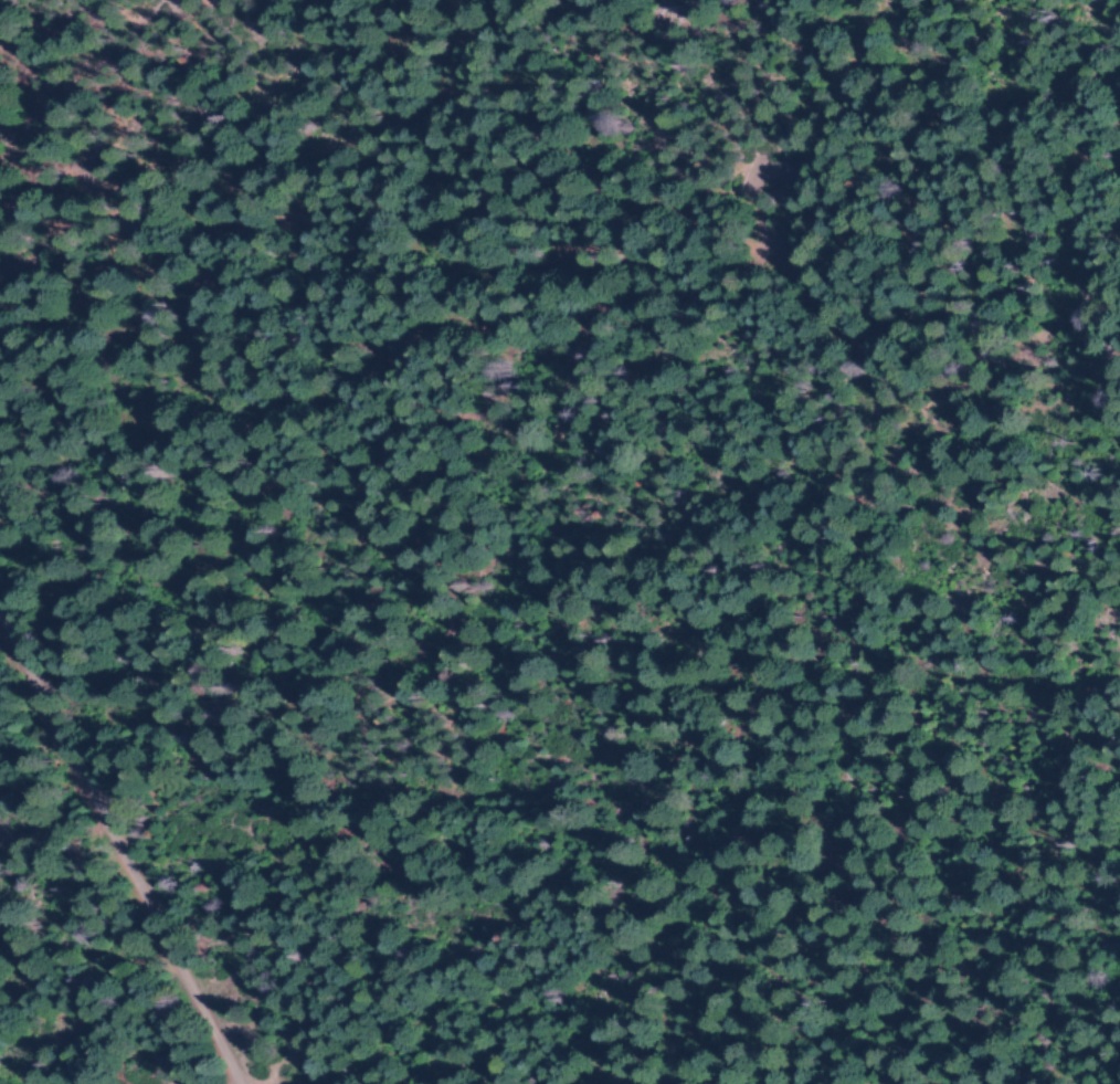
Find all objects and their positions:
road: (118, 849)

